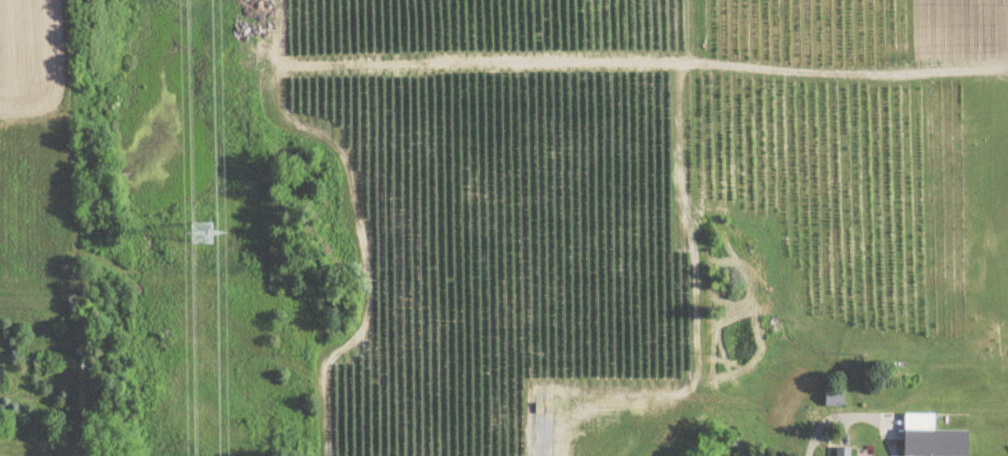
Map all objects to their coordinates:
power tower: (189, 224)
building: (834, 399)
road: (855, 414)
building: (930, 438)
building: (843, 452)

